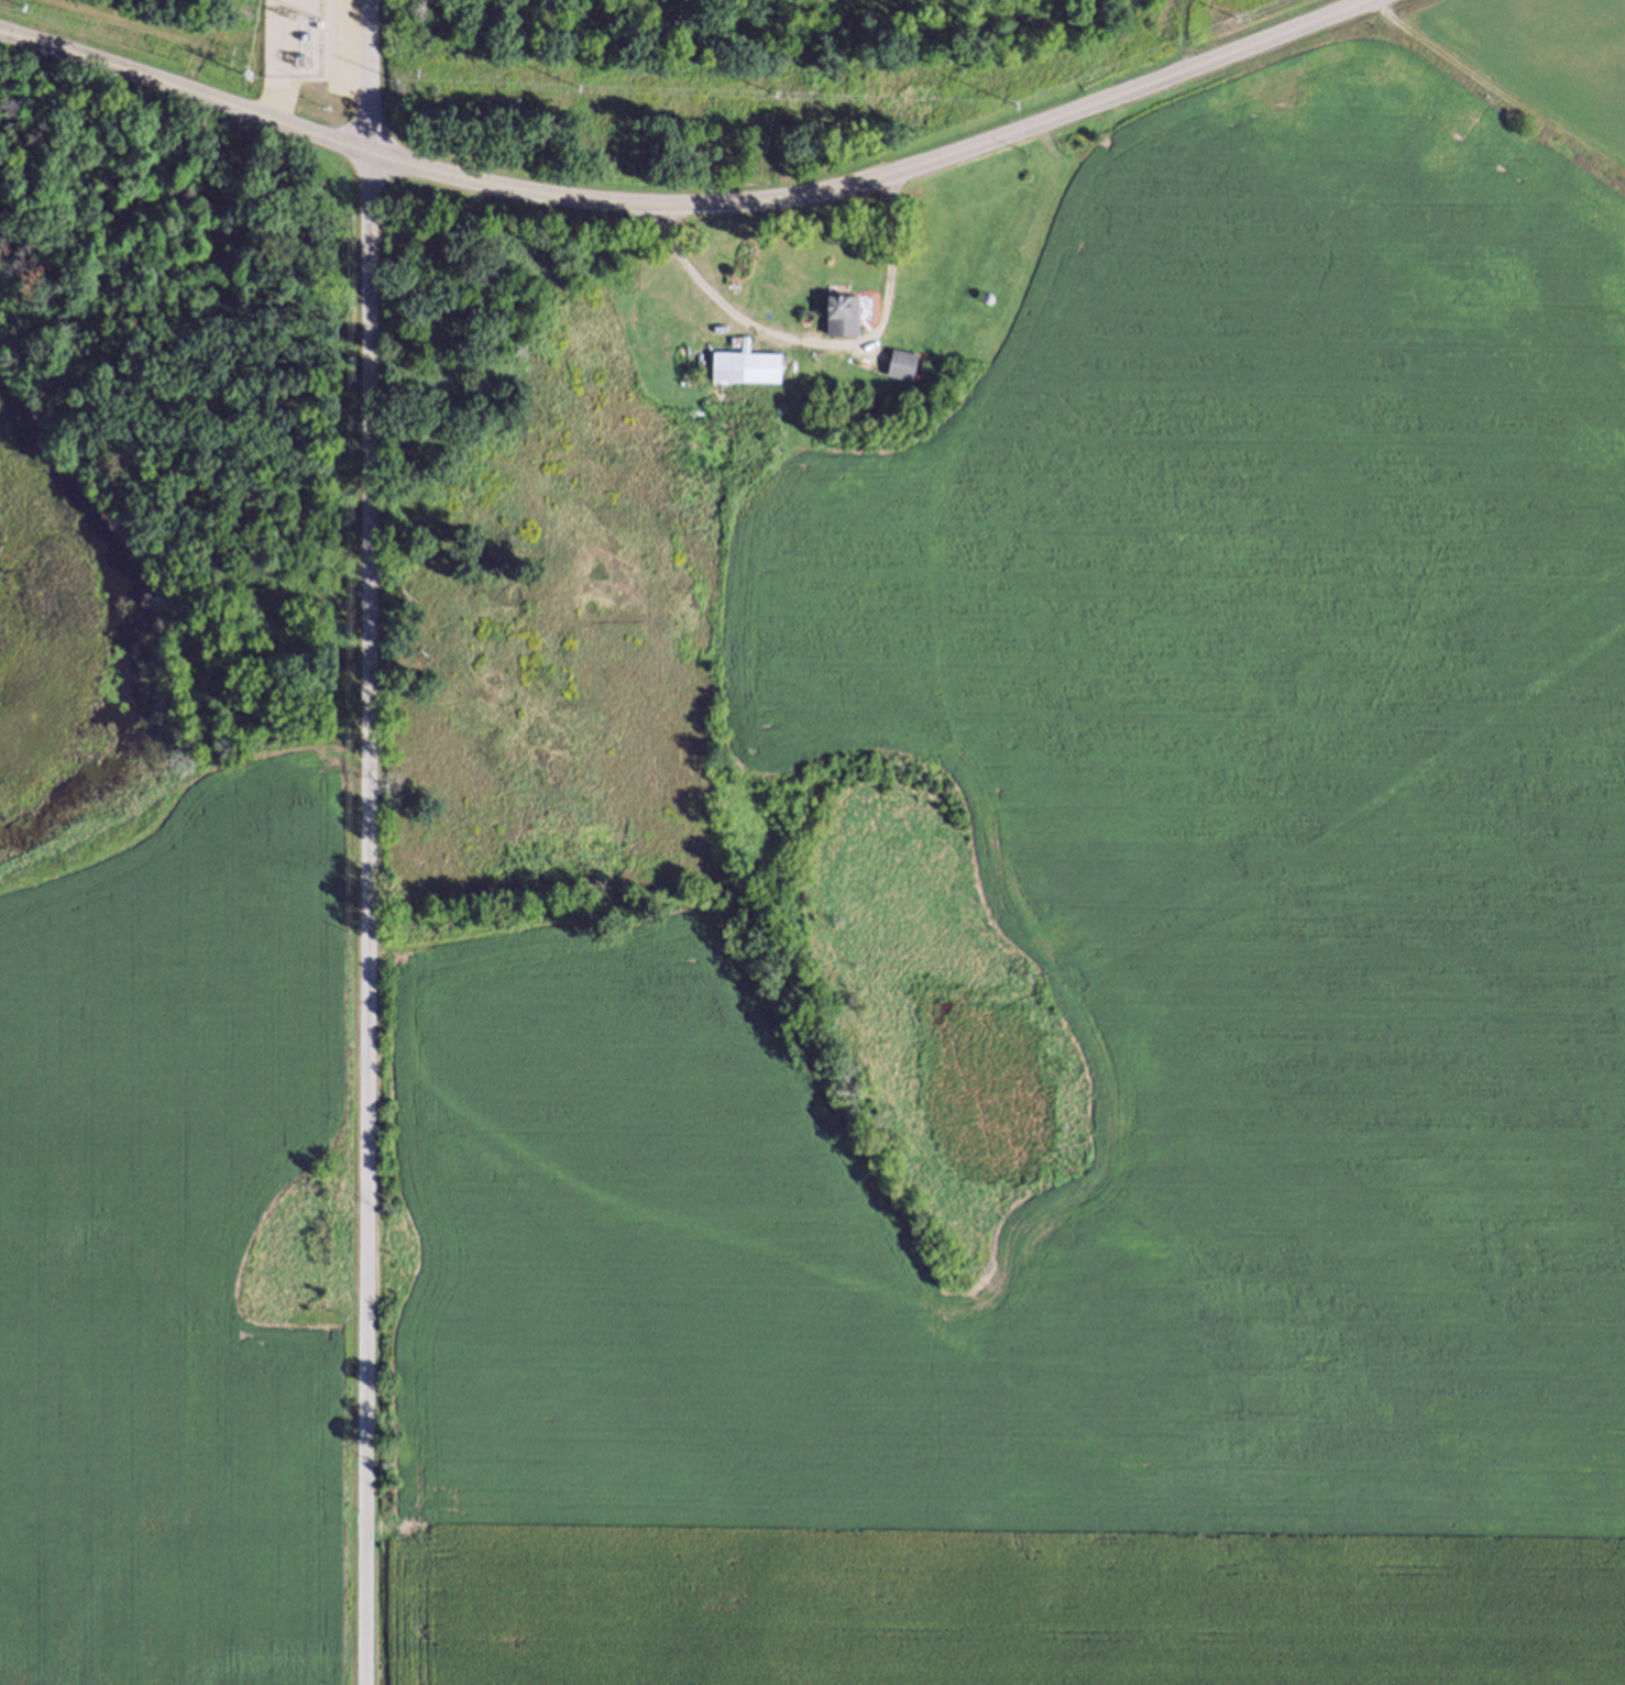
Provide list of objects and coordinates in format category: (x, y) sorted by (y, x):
road: (691, 207)
building: (837, 327)
road: (811, 341)
building: (744, 375)
building: (901, 375)
road: (364, 841)

